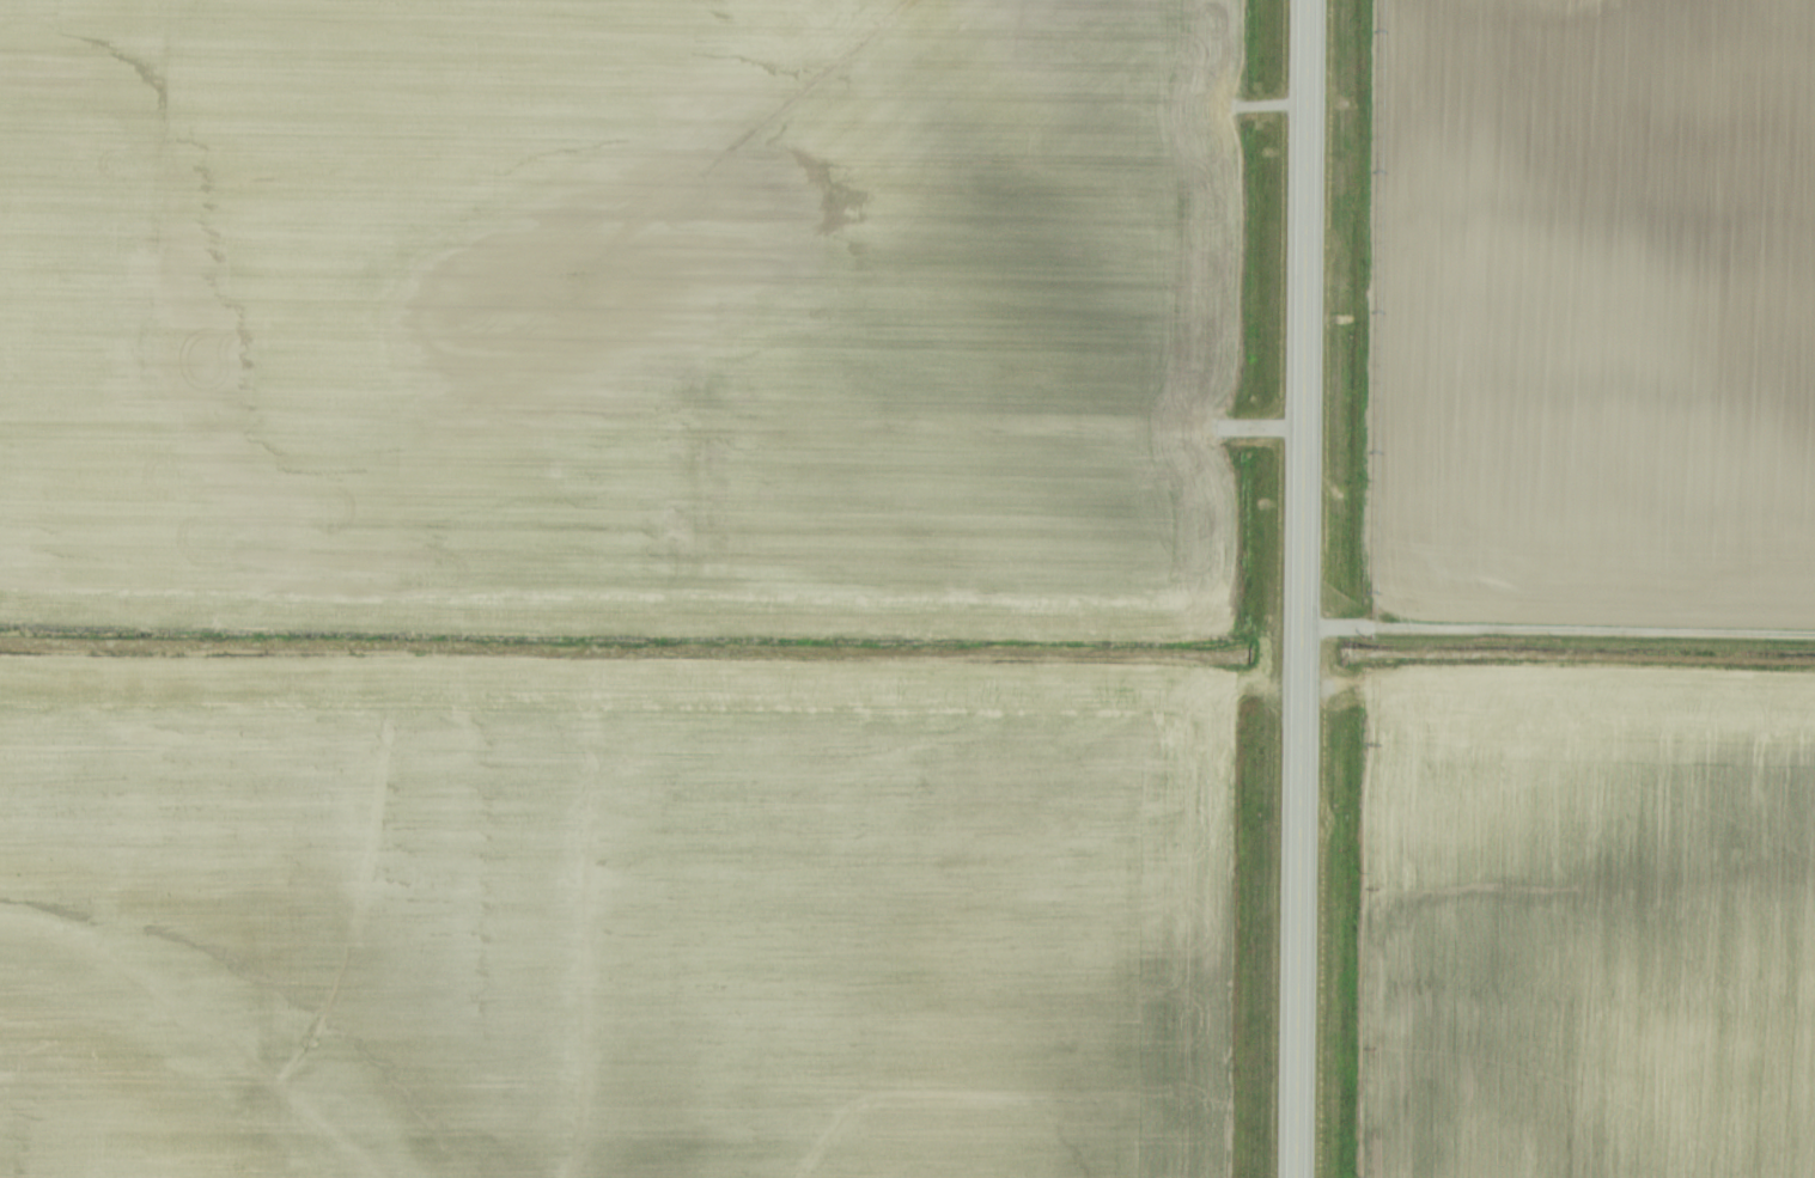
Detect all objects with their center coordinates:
building: (688, 525)
storage tank: (688, 525)
building: (688, 535)
storage tank: (688, 535)
road: (1296, 588)
road: (1555, 629)

